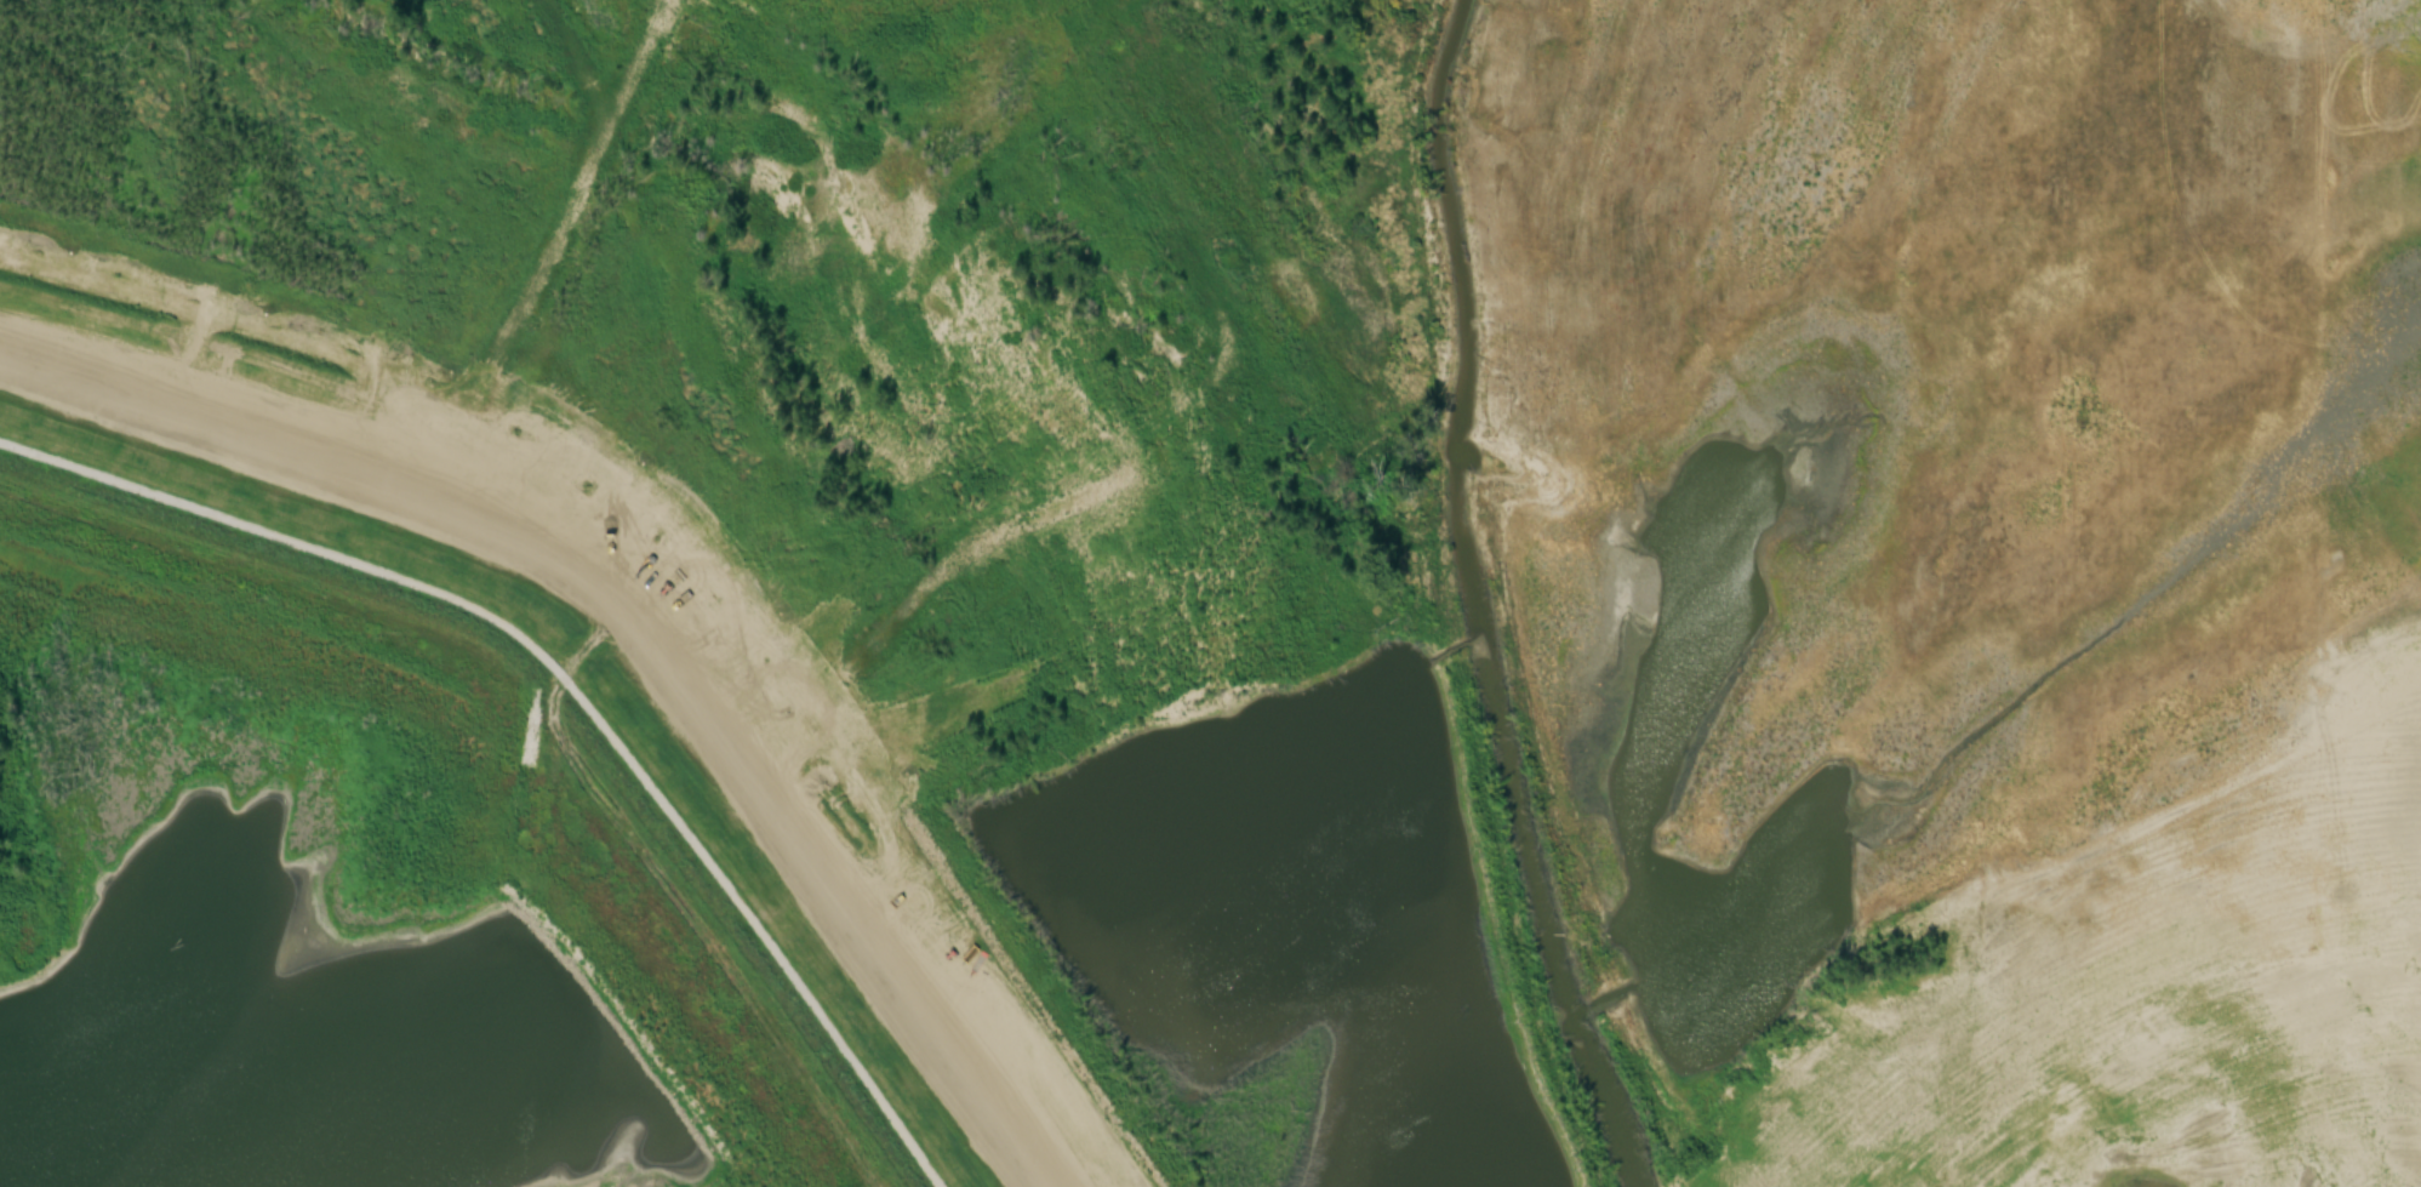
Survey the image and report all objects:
road: (2134, 919)

